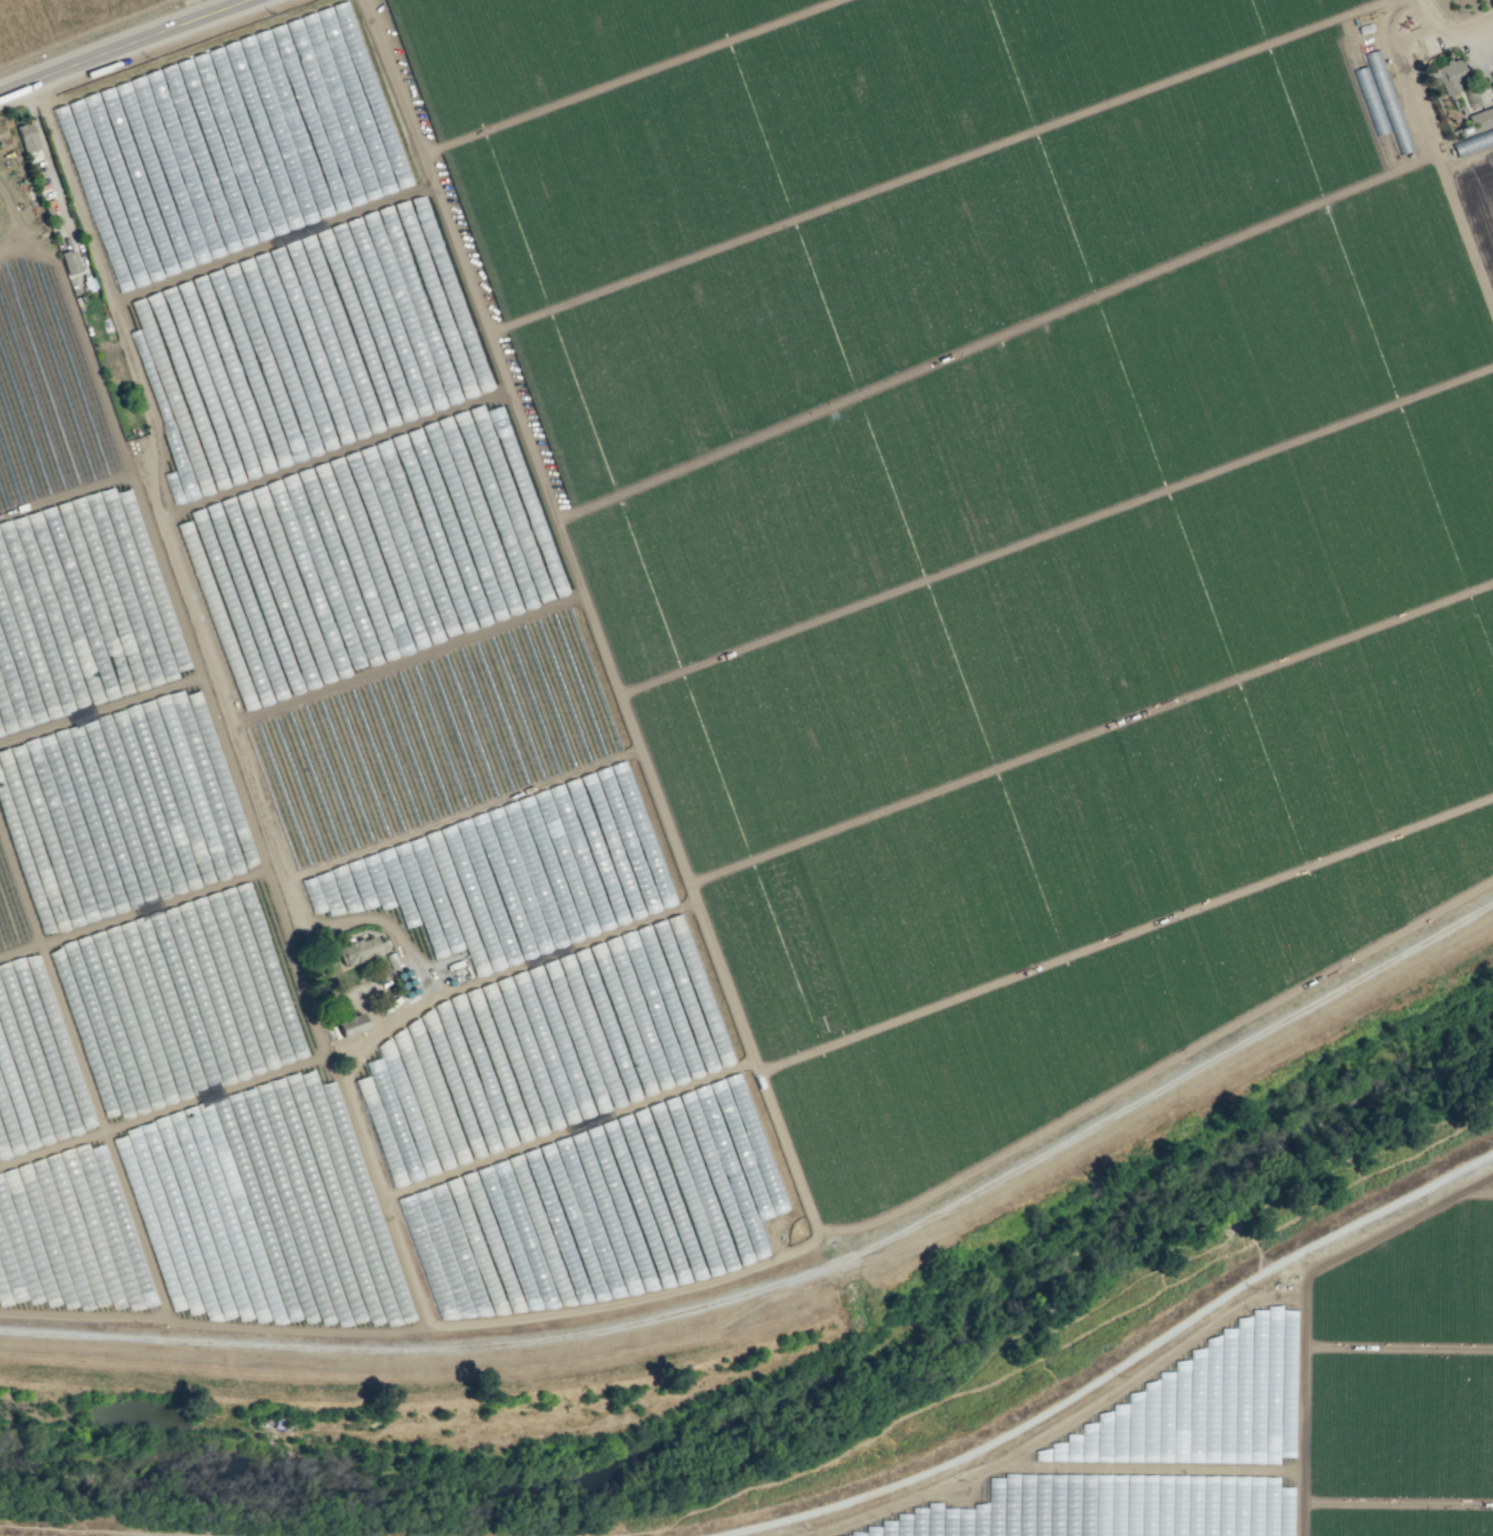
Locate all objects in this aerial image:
road: (1456, 20)
crop: (64, 25)
road: (131, 47)
building: (1450, 75)
building: (1491, 76)
building: (1470, 100)
building: (1477, 121)
building: (1397, 128)
road: (421, 130)
building: (27, 137)
building: (1473, 142)
building: (223, 145)
road: (276, 242)
road: (95, 248)
building: (70, 261)
road: (334, 452)
building: (132, 580)
road: (407, 659)
road: (605, 661)
crop: (717, 682)
building: (133, 787)
road: (462, 813)
building: (360, 949)
road: (560, 949)
building: (346, 1026)
building: (103, 1071)
building: (364, 1090)
building: (148, 1218)
road: (411, 1279)
building: (630, 1286)
building: (1228, 1335)
building: (1214, 1406)
crop: (1274, 1421)
river: (787, 1423)
road: (641, 1505)
building: (933, 1507)
building: (911, 1515)

